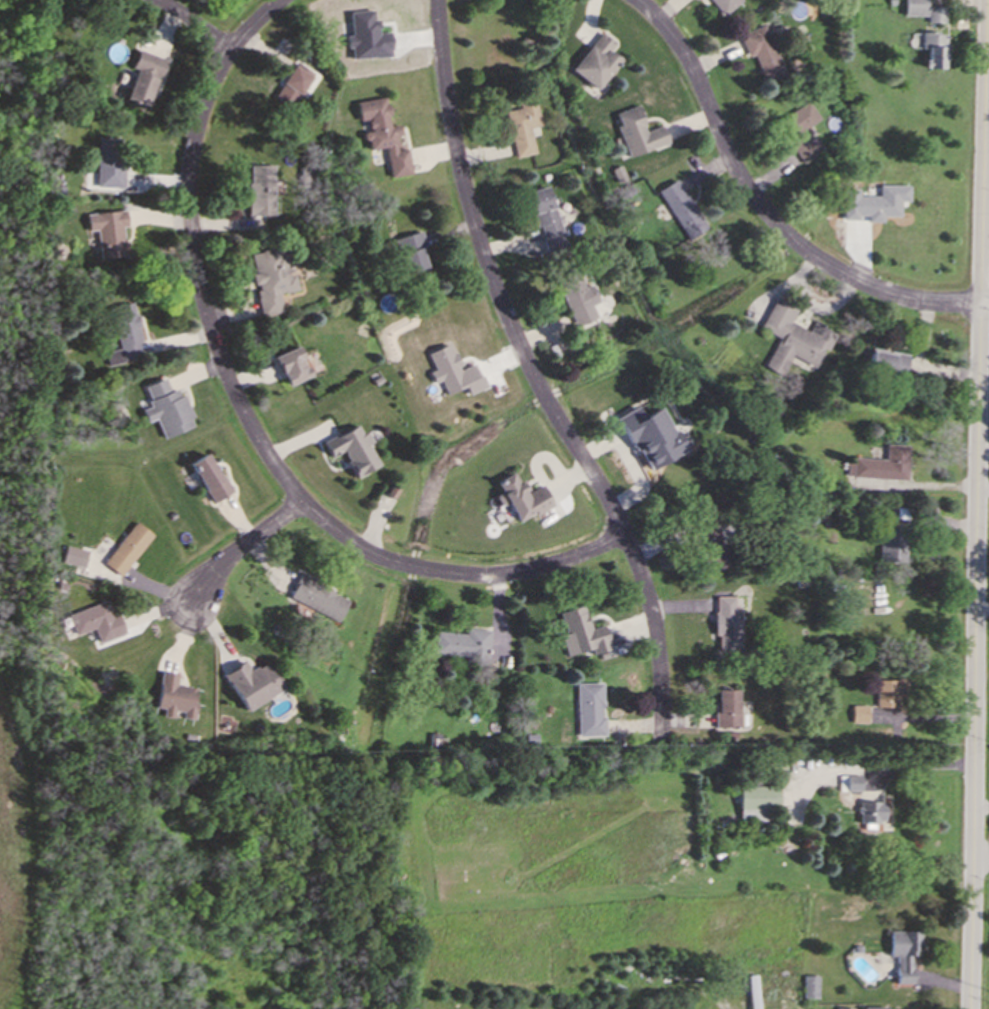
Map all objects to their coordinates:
building: (723, 5)
building: (914, 7)
building: (935, 13)
road: (195, 24)
building: (365, 36)
building: (933, 48)
building: (761, 51)
building: (595, 61)
building: (142, 77)
building: (291, 85)
building: (521, 127)
building: (799, 129)
building: (636, 132)
building: (382, 134)
road: (987, 141)
building: (108, 161)
building: (260, 189)
building: (874, 202)
building: (680, 208)
road: (763, 209)
building: (545, 217)
building: (107, 232)
building: (410, 252)
building: (270, 279)
road: (985, 293)
building: (579, 299)
building: (124, 333)
building: (792, 337)
building: (887, 361)
building: (292, 365)
building: (452, 371)
road: (534, 376)
building: (166, 407)
road: (245, 414)
building: (651, 436)
building: (352, 449)
building: (880, 464)
building: (209, 477)
building: (520, 497)
road: (977, 504)
building: (891, 544)
building: (127, 548)
road: (240, 548)
building: (73, 555)
building: (318, 597)
building: (96, 620)
building: (727, 623)
building: (581, 632)
building: (463, 644)
building: (252, 683)
building: (886, 691)
building: (174, 696)
building: (725, 707)
building: (589, 708)
building: (857, 713)
road: (917, 765)
building: (847, 781)
building: (754, 801)
building: (867, 812)
crop: (16, 848)
road: (979, 858)
building: (901, 952)
building: (808, 986)
building: (842, 1008)
building: (875, 1008)

